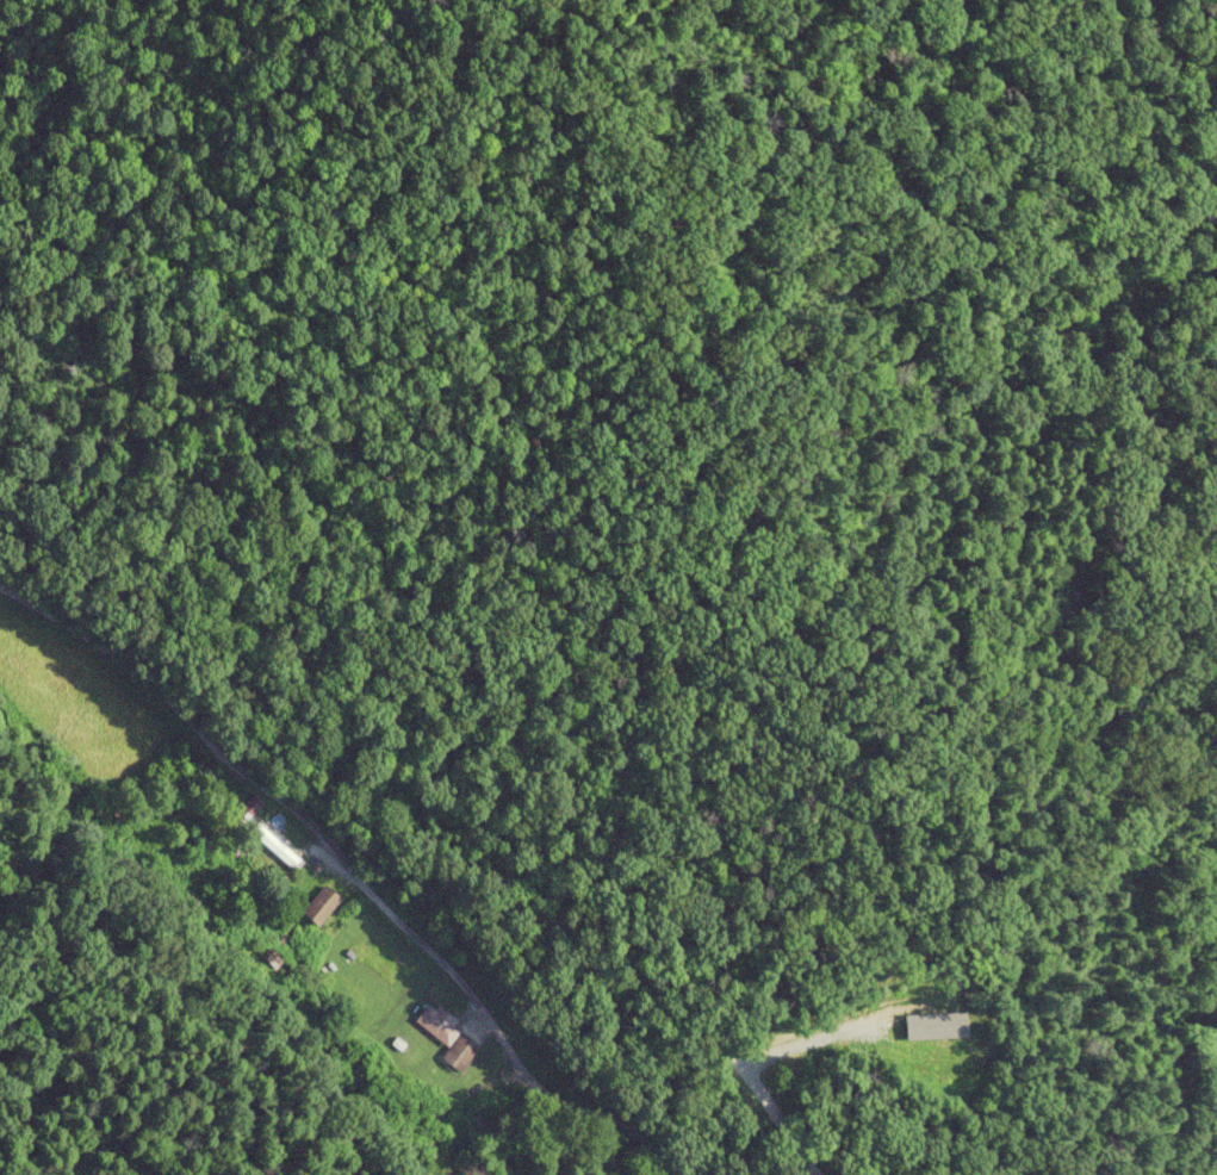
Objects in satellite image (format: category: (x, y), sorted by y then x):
road: (353, 875)
building: (319, 907)
building: (373, 959)
building: (437, 1027)

